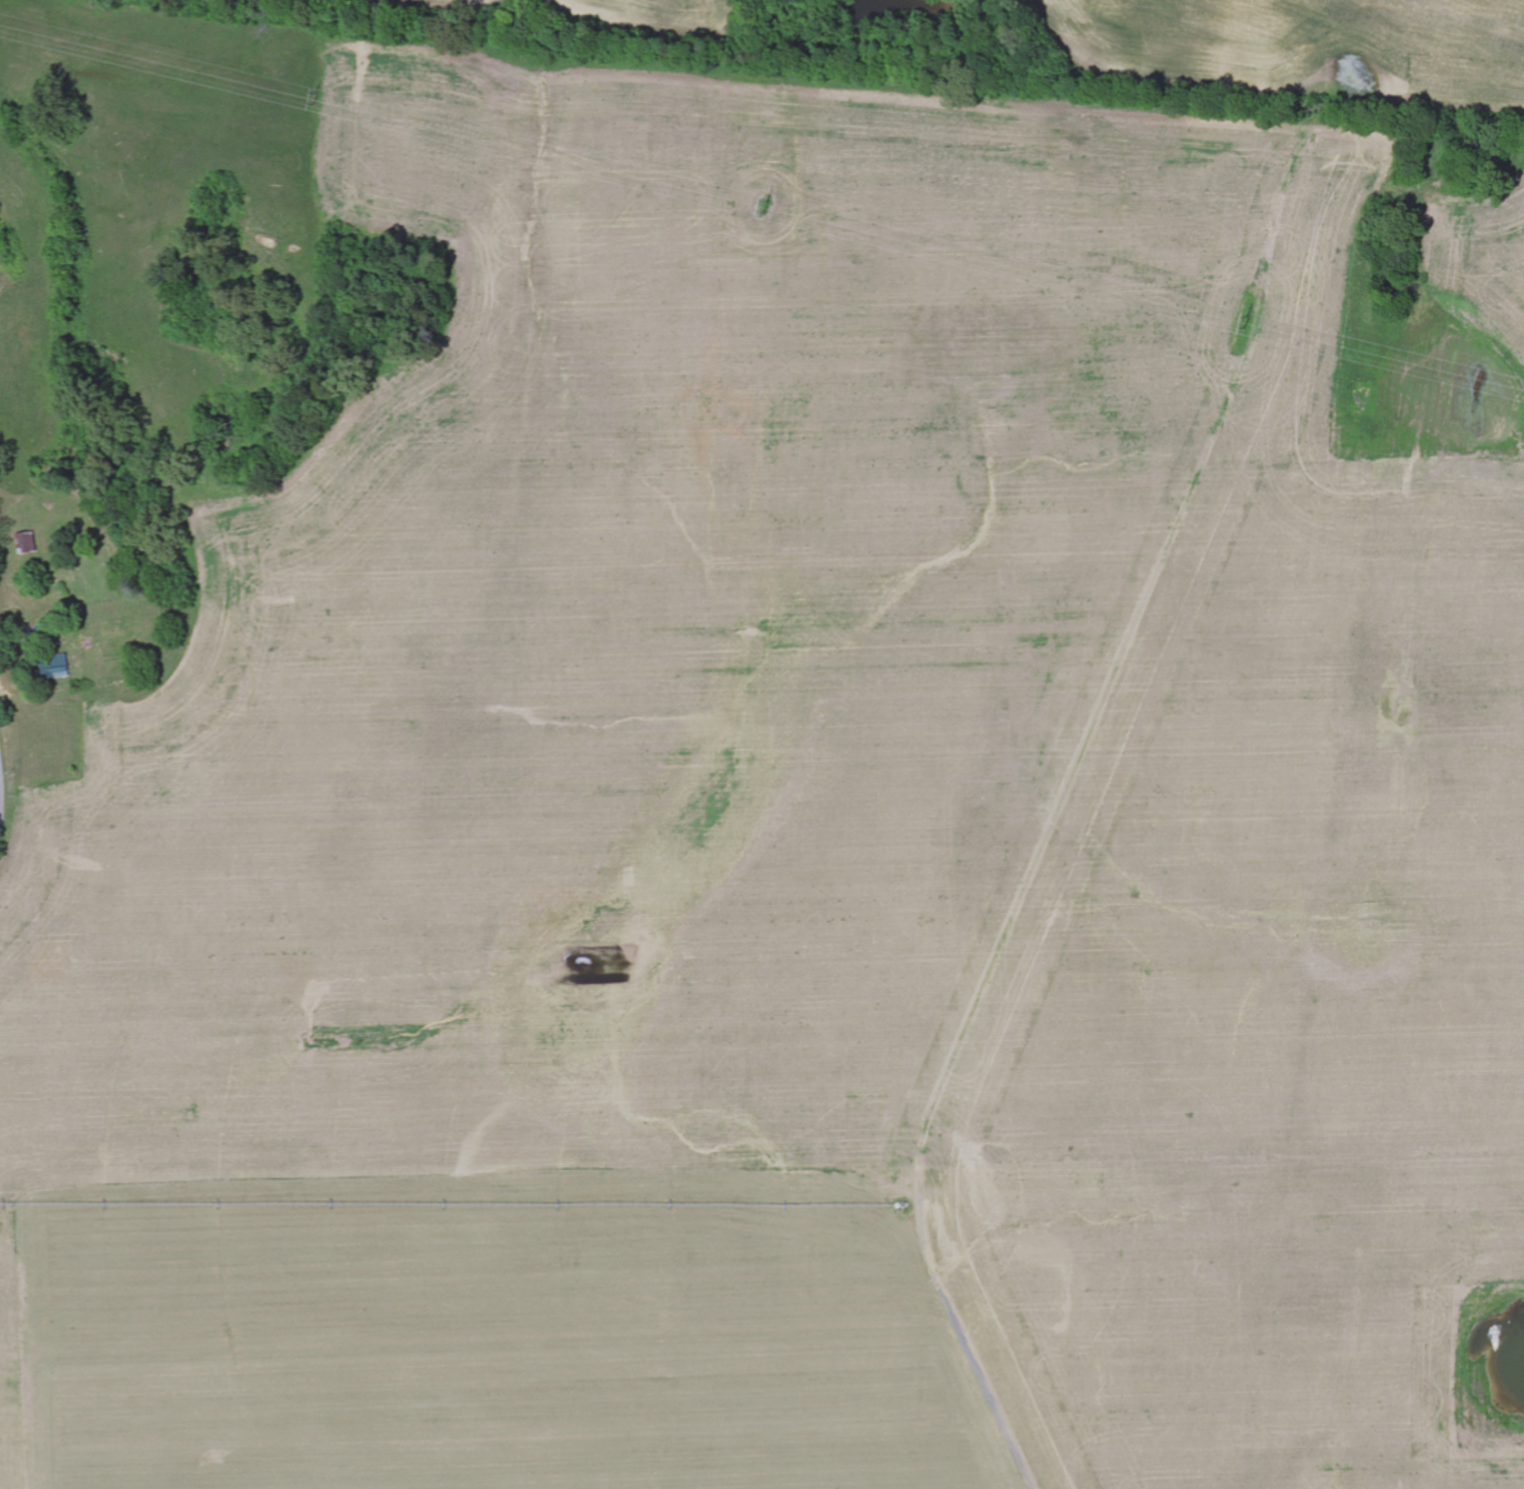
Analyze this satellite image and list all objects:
power tower: (316, 100)
power tower: (767, 208)
power tower: (1249, 322)
road: (1, 800)

